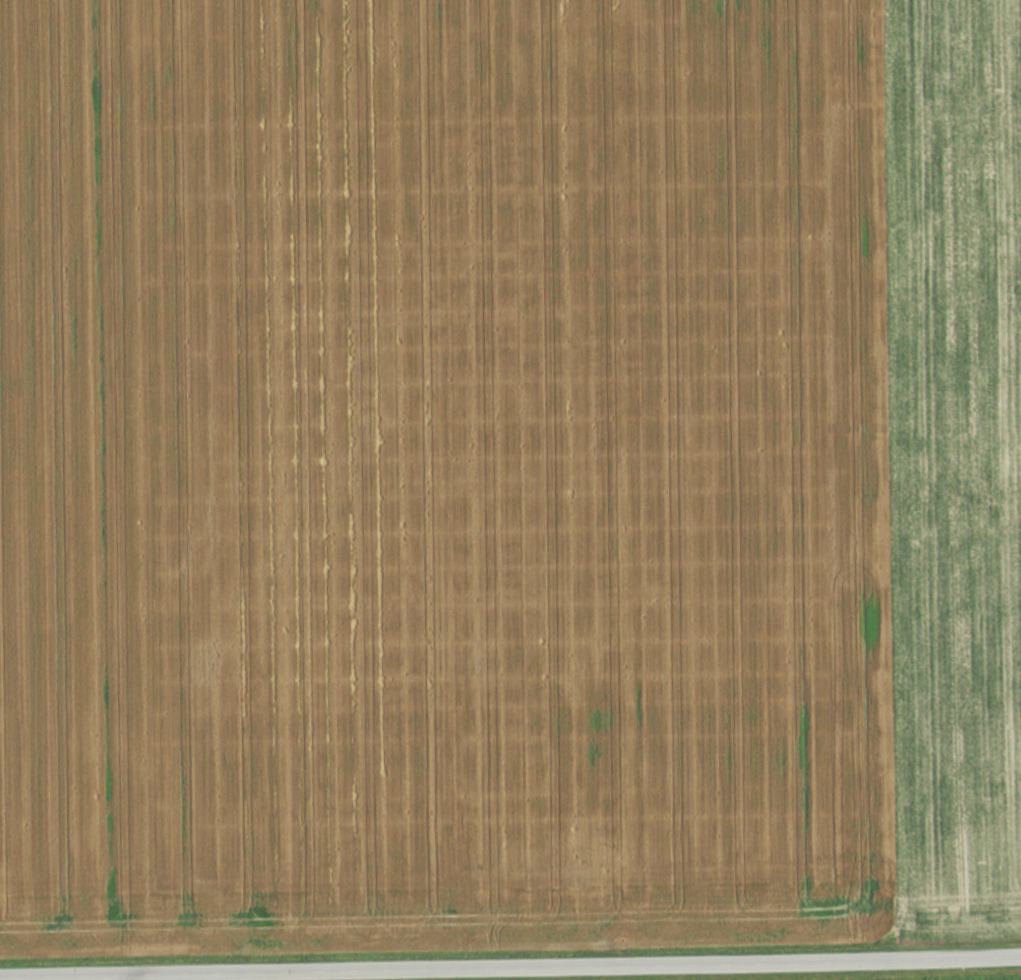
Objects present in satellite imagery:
crop: (508, 474)
road: (590, 971)

